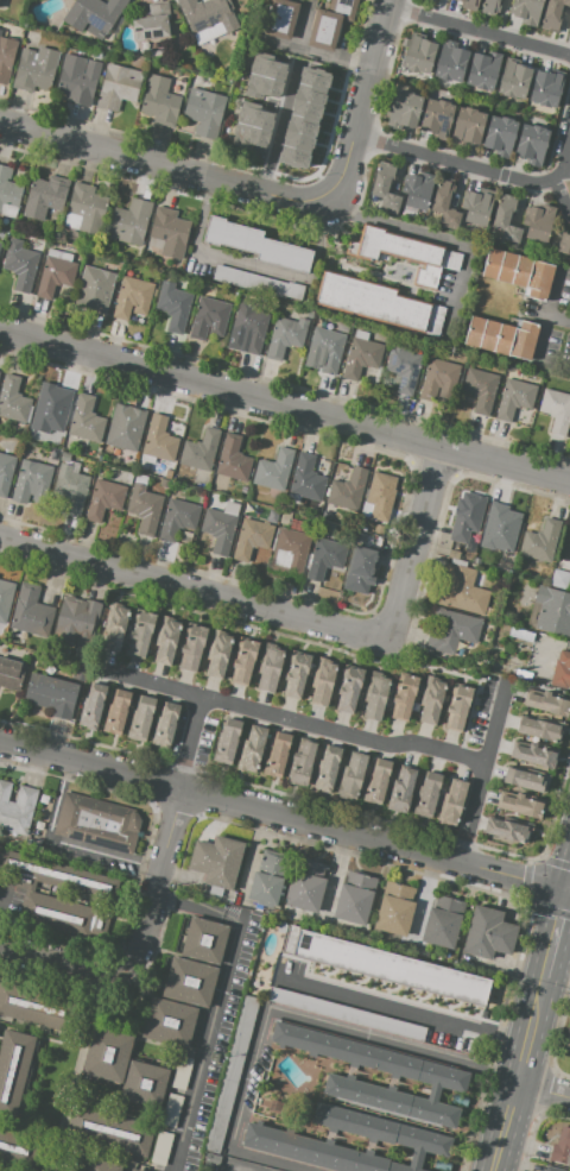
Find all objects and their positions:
building: (287, 0)
building: (433, 0)
building: (469, 4)
building: (490, 7)
building: (527, 11)
building: (552, 14)
building: (93, 17)
building: (275, 17)
building: (208, 18)
building: (152, 21)
building: (330, 23)
building: (118, 27)
building: (569, 29)
building: (0, 30)
road: (477, 30)
building: (0, 32)
building: (418, 53)
building: (6, 57)
building: (451, 62)
building: (267, 67)
building: (36, 69)
building: (483, 70)
road: (368, 75)
building: (313, 77)
building: (78, 78)
building: (513, 80)
building: (119, 87)
building: (262, 87)
building: (545, 88)
building: (310, 94)
building: (159, 101)
building: (305, 109)
building: (404, 109)
building: (204, 113)
building: (254, 117)
building: (436, 118)
building: (302, 125)
building: (467, 126)
road: (278, 127)
building: (499, 134)
building: (248, 137)
building: (297, 140)
building: (531, 144)
building: (293, 157)
road: (465, 168)
road: (562, 169)
road: (188, 174)
building: (385, 187)
building: (417, 190)
building: (8, 193)
building: (45, 196)
building: (444, 204)
building: (477, 206)
building: (85, 209)
building: (506, 216)
building: (129, 222)
building: (537, 222)
building: (167, 233)
road: (420, 233)
building: (256, 244)
building: (564, 245)
building: (405, 253)
building: (20, 264)
building: (56, 273)
building: (519, 273)
building: (258, 283)
building: (94, 289)
building: (132, 297)
building: (379, 304)
building: (173, 306)
building: (209, 317)
road: (558, 322)
building: (251, 328)
building: (285, 336)
building: (501, 338)
building: (324, 351)
building: (361, 355)
building: (404, 369)
building: (437, 377)
building: (480, 389)
building: (514, 398)
building: (13, 399)
road: (284, 405)
building: (556, 410)
building: (52, 411)
building: (85, 418)
building: (125, 427)
building: (159, 440)
building: (199, 451)
building: (53, 454)
building: (233, 459)
building: (274, 470)
building: (6, 472)
building: (306, 478)
building: (30, 479)
building: (71, 487)
building: (347, 490)
building: (379, 497)
building: (104, 498)
building: (145, 508)
building: (325, 514)
building: (273, 515)
building: (178, 518)
building: (284, 518)
building: (465, 518)
building: (221, 527)
building: (379, 529)
building: (498, 529)
building: (186, 537)
building: (251, 537)
building: (540, 541)
road: (419, 546)
building: (290, 552)
building: (454, 554)
building: (469, 556)
building: (324, 559)
building: (458, 562)
building: (562, 566)
building: (361, 571)
building: (559, 580)
road: (195, 588)
building: (462, 591)
building: (5, 598)
building: (551, 612)
building: (30, 613)
building: (78, 622)
building: (116, 628)
building: (451, 630)
building: (521, 634)
building: (140, 635)
building: (165, 641)
building: (192, 648)
building: (218, 655)
building: (243, 661)
building: (270, 666)
building: (80, 671)
building: (560, 671)
building: (11, 673)
building: (296, 674)
building: (323, 681)
building: (348, 690)
building: (51, 694)
building: (404, 694)
building: (375, 695)
building: (549, 701)
building: (432, 703)
building: (414, 706)
building: (457, 706)
building: (93, 707)
building: (116, 712)
building: (141, 719)
building: (165, 725)
road: (498, 725)
building: (543, 729)
road: (346, 735)
building: (227, 743)
road: (190, 744)
building: (252, 749)
building: (533, 754)
building: (277, 755)
building: (300, 761)
building: (328, 769)
building: (351, 775)
building: (526, 779)
building: (376, 782)
building: (401, 789)
building: (426, 795)
building: (451, 805)
building: (521, 805)
building: (17, 807)
road: (284, 818)
building: (99, 823)
building: (508, 830)
road: (64, 843)
building: (217, 861)
building: (58, 875)
building: (268, 879)
building: (308, 884)
traffic signals: (569, 892)
building: (354, 898)
building: (395, 908)
building: (55, 913)
building: (443, 921)
building: (488, 933)
road: (558, 934)
building: (203, 940)
road: (140, 942)
building: (386, 965)
building: (190, 982)
road: (217, 1000)
building: (38, 1006)
road: (406, 1008)
road: (284, 1013)
building: (347, 1014)
building: (170, 1021)
building: (566, 1039)
building: (107, 1056)
building: (13, 1066)
building: (182, 1074)
building: (229, 1074)
road: (521, 1074)
building: (429, 1075)
building: (145, 1084)
road: (545, 1090)
building: (170, 1110)
building: (108, 1131)
building: (408, 1137)
building: (19, 1146)
building: (161, 1148)
building: (560, 1148)
building: (101, 1166)
road: (227, 1169)
building: (134, 1170)
building: (550, 1170)

